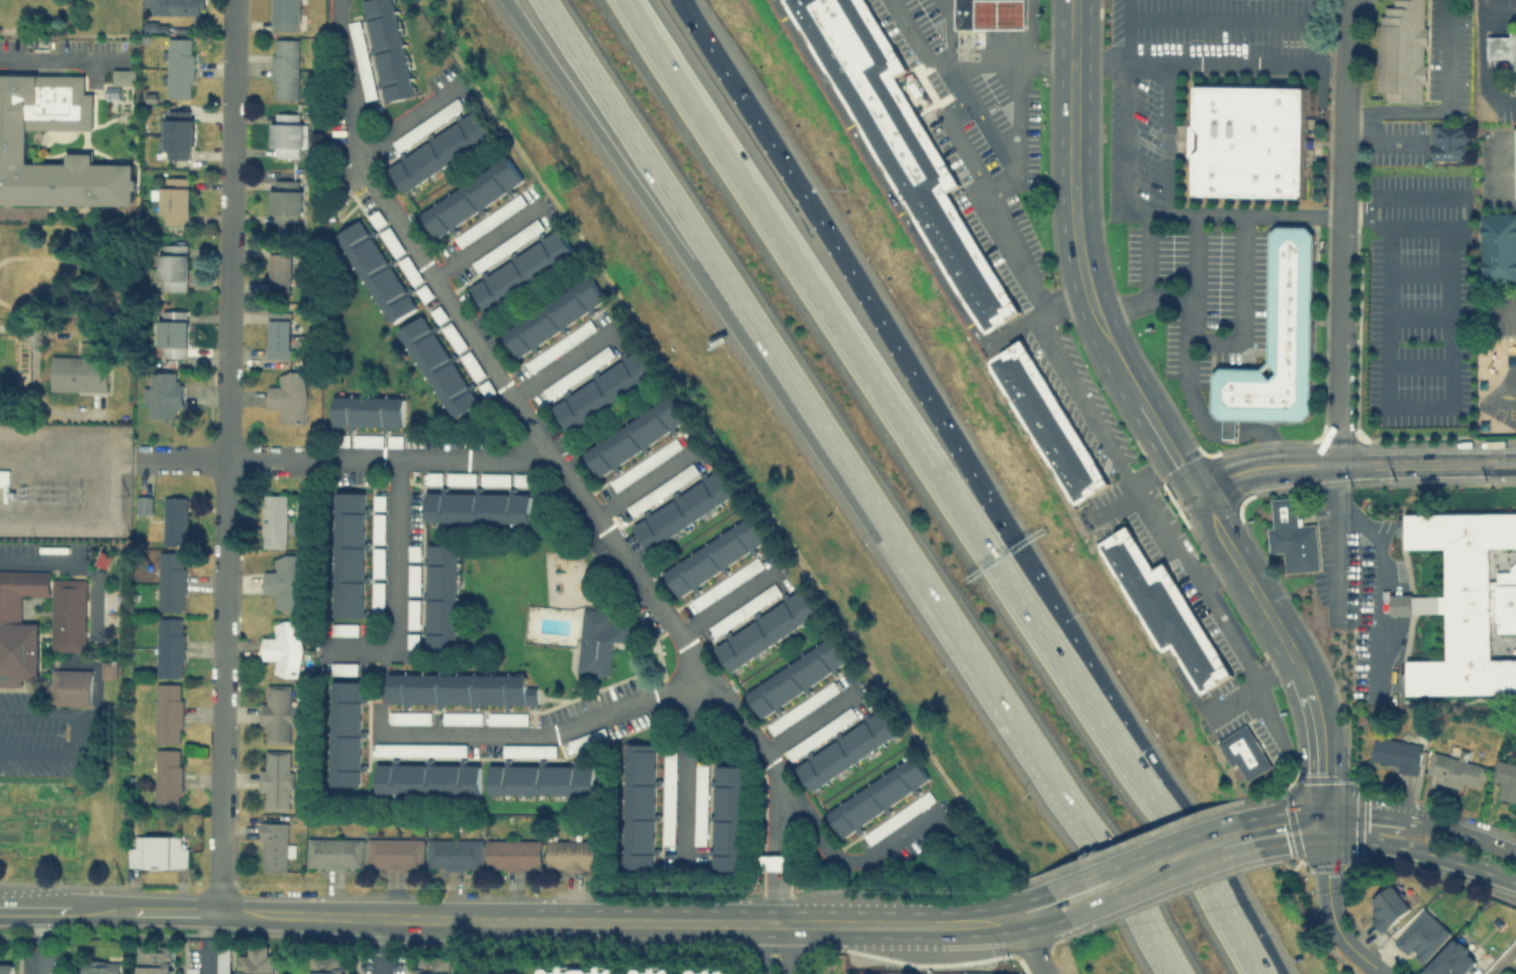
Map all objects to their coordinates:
road: (1498, 4)
building: (177, 6)
building: (966, 13)
building: (1001, 13)
gas station: (1001, 13)
building: (286, 15)
road: (1222, 18)
building: (150, 25)
road: (1027, 31)
road: (1127, 31)
road: (947, 33)
road: (916, 40)
building: (1502, 48)
building: (388, 49)
building: (1401, 49)
road: (65, 58)
building: (360, 59)
road: (1480, 62)
road: (1226, 64)
building: (178, 66)
building: (284, 67)
building: (123, 75)
road: (1444, 102)
road: (746, 114)
road: (1015, 117)
road: (400, 123)
building: (427, 124)
road: (614, 125)
road: (628, 125)
building: (177, 133)
building: (287, 135)
road: (1384, 139)
building: (13, 140)
building: (1250, 141)
building: (900, 142)
building: (1448, 142)
road: (962, 145)
road: (1001, 150)
building: (439, 151)
building: (1515, 162)
building: (471, 196)
road: (1430, 198)
building: (174, 199)
building: (285, 201)
road: (1144, 211)
road: (1178, 213)
building: (375, 218)
building: (489, 219)
road: (1192, 228)
road: (230, 229)
road: (1342, 231)
building: (390, 240)
building: (506, 244)
road: (486, 246)
building: (1498, 246)
road: (1147, 255)
road: (1080, 257)
building: (172, 266)
building: (281, 268)
building: (521, 269)
building: (375, 270)
building: (409, 270)
road: (1419, 273)
road: (799, 282)
building: (423, 292)
parking lot: (1418, 300)
road: (1242, 306)
building: (437, 313)
road: (1502, 314)
building: (552, 316)
road: (1419, 316)
building: (172, 333)
building: (278, 334)
building: (452, 336)
building: (1276, 340)
building: (557, 345)
building: (470, 365)
road: (1419, 366)
building: (437, 367)
road: (556, 367)
road: (1185, 368)
building: (78, 372)
building: (575, 372)
road: (32, 385)
building: (486, 388)
building: (603, 388)
building: (162, 393)
building: (288, 395)
road: (902, 397)
road: (1426, 405)
building: (368, 411)
road: (1089, 416)
building: (1045, 421)
road: (1237, 431)
building: (634, 434)
building: (341, 440)
building: (367, 440)
building: (395, 441)
road: (1266, 448)
road: (188, 458)
road: (391, 460)
road: (1426, 462)
building: (644, 463)
road: (1263, 467)
building: (433, 476)
building: (4, 477)
building: (460, 477)
building: (494, 478)
building: (521, 478)
power substation: (65, 480)
road: (641, 481)
traffic signals: (1193, 488)
building: (661, 489)
road: (581, 492)
power tower: (81, 493)
building: (378, 501)
building: (143, 504)
building: (477, 507)
building: (683, 509)
building: (174, 518)
building: (273, 519)
building: (378, 527)
building: (1292, 536)
building: (413, 552)
building: (348, 554)
building: (714, 555)
road: (37, 559)
building: (377, 561)
road: (1376, 566)
road: (1215, 569)
building: (413, 579)
building: (171, 580)
road: (1193, 580)
building: (284, 581)
building: (726, 582)
road: (397, 583)
building: (376, 596)
building: (441, 596)
road: (724, 601)
building: (1462, 602)
building: (742, 609)
building: (1163, 609)
road: (948, 610)
building: (411, 613)
building: (343, 628)
building: (765, 630)
building: (43, 632)
building: (599, 638)
building: (411, 640)
building: (170, 646)
building: (283, 647)
road: (1291, 651)
building: (107, 668)
building: (342, 668)
building: (795, 676)
road: (223, 684)
road: (1250, 685)
building: (456, 688)
road: (381, 691)
building: (801, 707)
building: (169, 712)
building: (277, 712)
road: (40, 714)
building: (408, 717)
building: (460, 717)
building: (507, 718)
road: (805, 723)
building: (345, 733)
road: (549, 733)
building: (819, 733)
building: (586, 739)
building: (419, 748)
building: (846, 749)
building: (527, 750)
building: (1244, 752)
building: (1396, 752)
road: (1117, 768)
road: (684, 770)
building: (1455, 771)
building: (168, 776)
building: (276, 778)
building: (427, 778)
building: (540, 779)
building: (1505, 779)
building: (877, 796)
building: (668, 798)
building: (699, 804)
building: (638, 806)
road: (1279, 811)
traffic signals: (1322, 812)
road: (1366, 813)
building: (729, 817)
building: (898, 817)
road: (1463, 832)
traffic signals: (1323, 837)
road: (1177, 840)
road: (1289, 840)
building: (273, 845)
road: (770, 846)
road: (1421, 850)
building: (158, 851)
building: (333, 852)
building: (394, 853)
building: (454, 853)
building: (513, 854)
building: (571, 854)
road: (784, 854)
road: (1214, 858)
building: (774, 861)
road: (1083, 878)
road: (1118, 894)
road: (1033, 903)
building: (1389, 905)
road: (62, 909)
road: (173, 910)
road: (368, 915)
road: (1041, 916)
road: (1332, 916)
road: (559, 920)
road: (758, 921)
road: (967, 922)
building: (1421, 935)
road: (206, 940)
road: (41, 941)
road: (379, 945)
road: (1031, 945)
road: (765, 948)
road: (786, 948)
building: (154, 959)
building: (222, 959)
building: (256, 960)
building: (1450, 960)
road: (1502, 960)
building: (327, 964)
building: (433, 964)
building: (98, 967)
building: (6, 968)
building: (576, 969)
building: (651, 969)
building: (705, 969)
building: (191, 970)
building: (53, 973)

